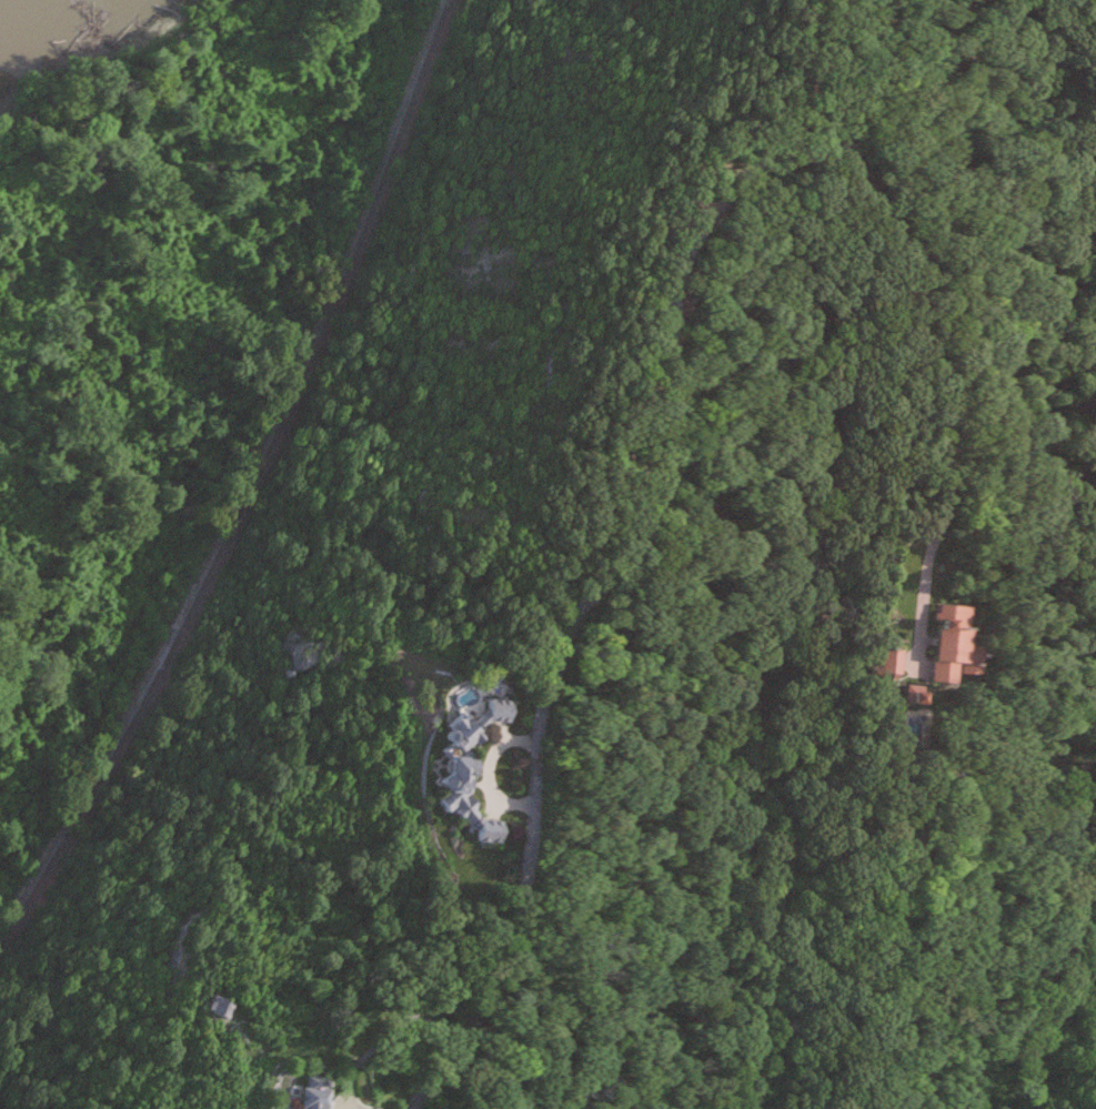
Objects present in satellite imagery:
road: (932, 357)
railway: (252, 488)
road: (635, 531)
building: (953, 643)
building: (891, 662)
building: (915, 695)
building: (471, 768)
road: (489, 768)
building: (218, 1007)
road: (381, 1028)
building: (315, 1095)

